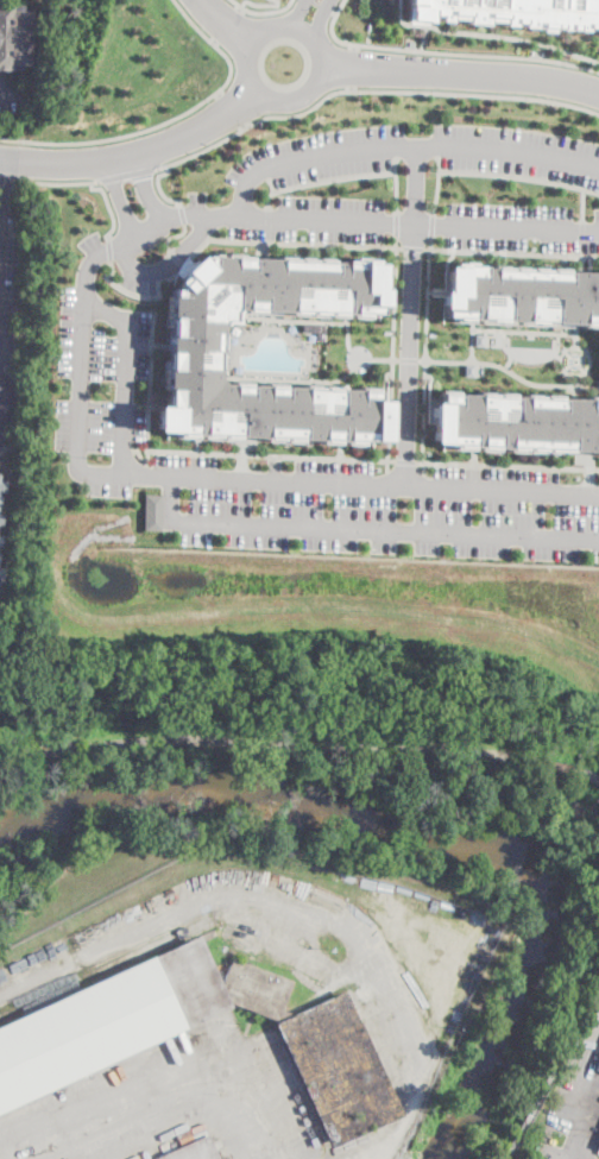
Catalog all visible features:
road: (257, 4)
road: (339, 6)
road: (321, 7)
road: (260, 11)
building: (510, 11)
road: (297, 13)
road: (319, 18)
road: (223, 23)
road: (223, 25)
road: (490, 32)
road: (308, 36)
building: (14, 38)
road: (454, 51)
road: (352, 65)
road: (461, 75)
road: (374, 89)
road: (6, 96)
parking lot: (13, 100)
road: (232, 107)
road: (177, 113)
road: (10, 139)
road: (401, 145)
parking lot: (418, 152)
road: (135, 153)
road: (162, 165)
road: (126, 171)
road: (519, 175)
road: (323, 178)
road: (94, 179)
road: (270, 182)
road: (395, 183)
road: (440, 183)
road: (144, 184)
road: (417, 184)
road: (90, 185)
road: (1, 187)
road: (158, 187)
road: (119, 196)
road: (582, 203)
road: (181, 213)
road: (286, 218)
parking lot: (411, 219)
road: (266, 223)
road: (396, 223)
road: (433, 225)
road: (506, 227)
road: (171, 234)
road: (581, 237)
road: (397, 240)
road: (431, 241)
road: (399, 246)
road: (414, 246)
road: (428, 247)
road: (106, 248)
road: (163, 264)
road: (430, 269)
parking lot: (8, 281)
road: (128, 291)
building: (524, 292)
road: (335, 321)
road: (81, 323)
road: (507, 328)
building: (481, 339)
building: (191, 348)
road: (409, 355)
road: (409, 359)
building: (471, 369)
road: (510, 370)
road: (121, 373)
road: (298, 379)
parking lot: (99, 390)
road: (5, 396)
building: (519, 422)
parking lot: (5, 440)
road: (8, 443)
road: (387, 448)
road: (137, 452)
road: (240, 453)
road: (144, 455)
road: (391, 459)
road: (408, 460)
road: (504, 464)
road: (386, 465)
road: (587, 467)
building: (0, 477)
road: (336, 485)
building: (0, 492)
parking lot: (378, 505)
building: (147, 508)
building: (0, 525)
road: (362, 528)
building: (0, 572)
road: (29, 724)
road: (298, 742)
park: (345, 820)
road: (289, 911)
building: (76, 1043)
building: (597, 1065)
building: (598, 1069)
parking lot: (573, 1096)
road: (588, 1096)
road: (181, 1106)
building: (598, 1147)
building: (598, 1149)
building: (193, 1151)
road: (566, 1158)
road: (569, 1158)

